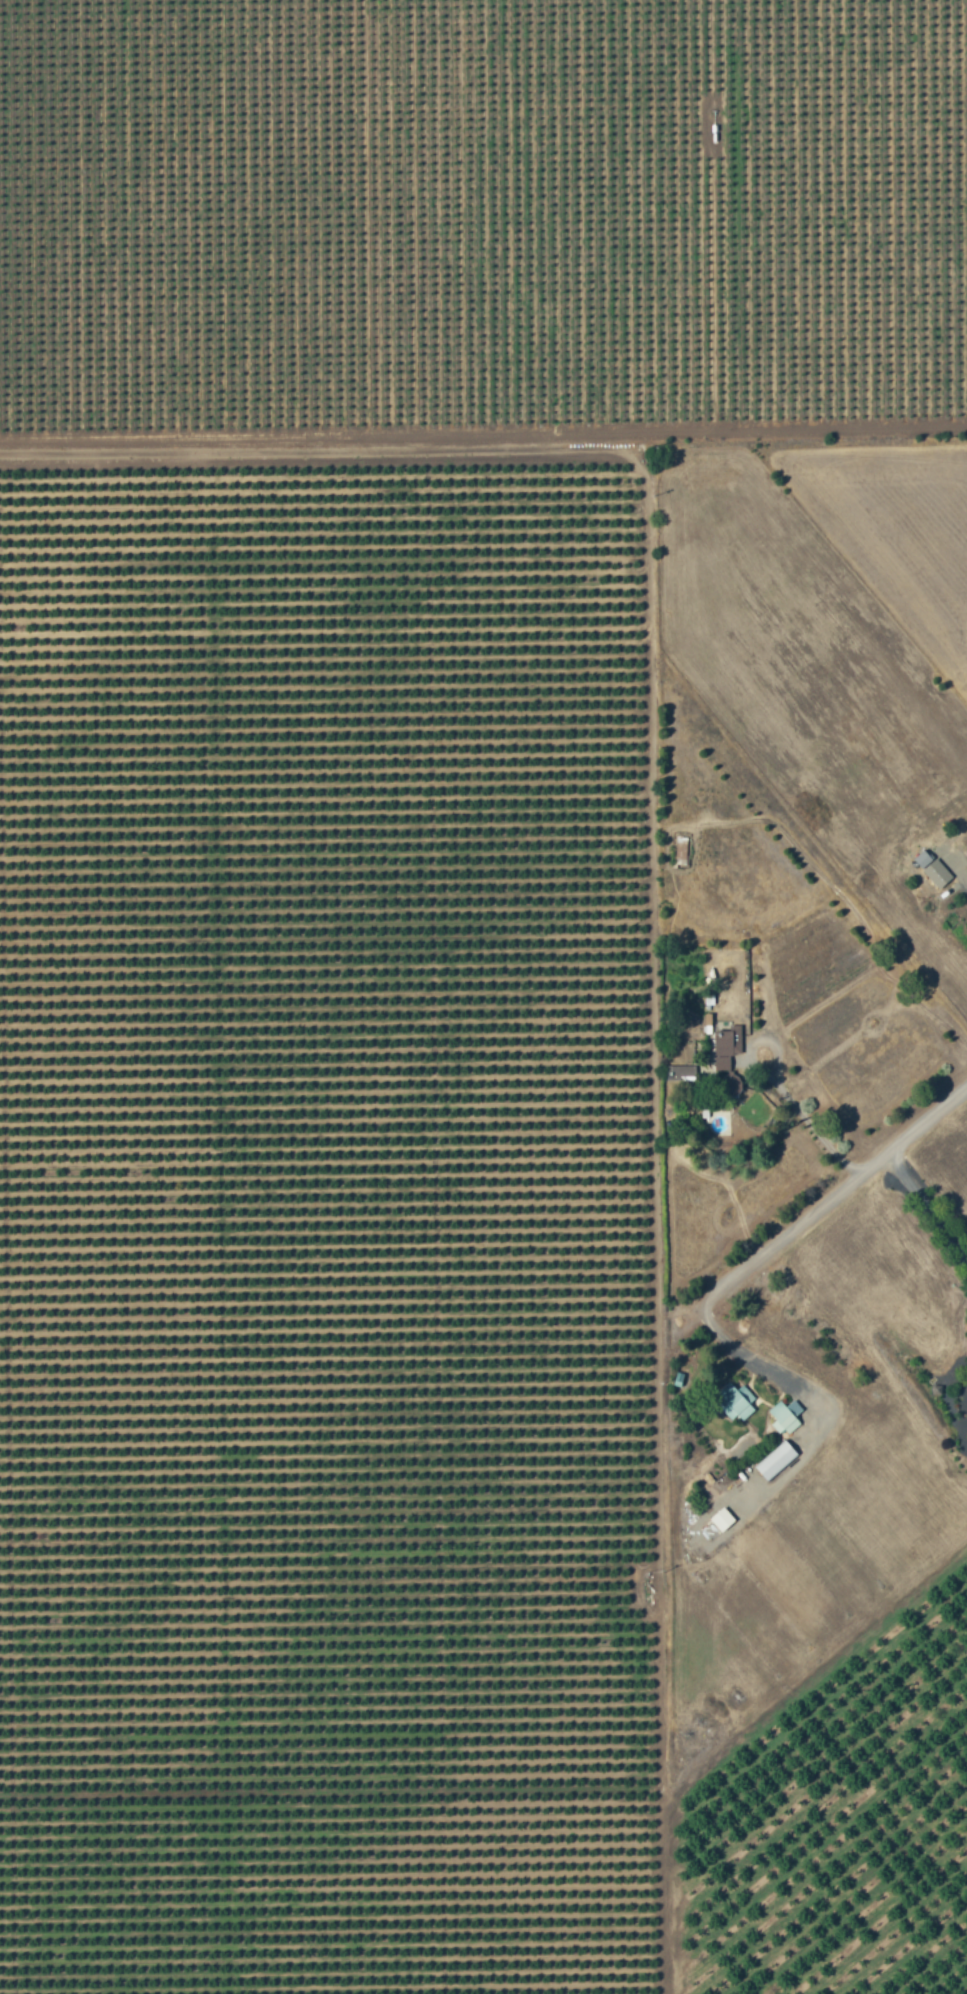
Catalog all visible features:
building: (937, 873)
road: (964, 879)
building: (728, 1039)
building: (680, 1072)
road: (777, 1083)
building: (735, 1086)
road: (833, 1192)
road: (925, 1208)
road: (770, 1373)
building: (735, 1400)
building: (785, 1415)
building: (776, 1460)
building: (722, 1518)

